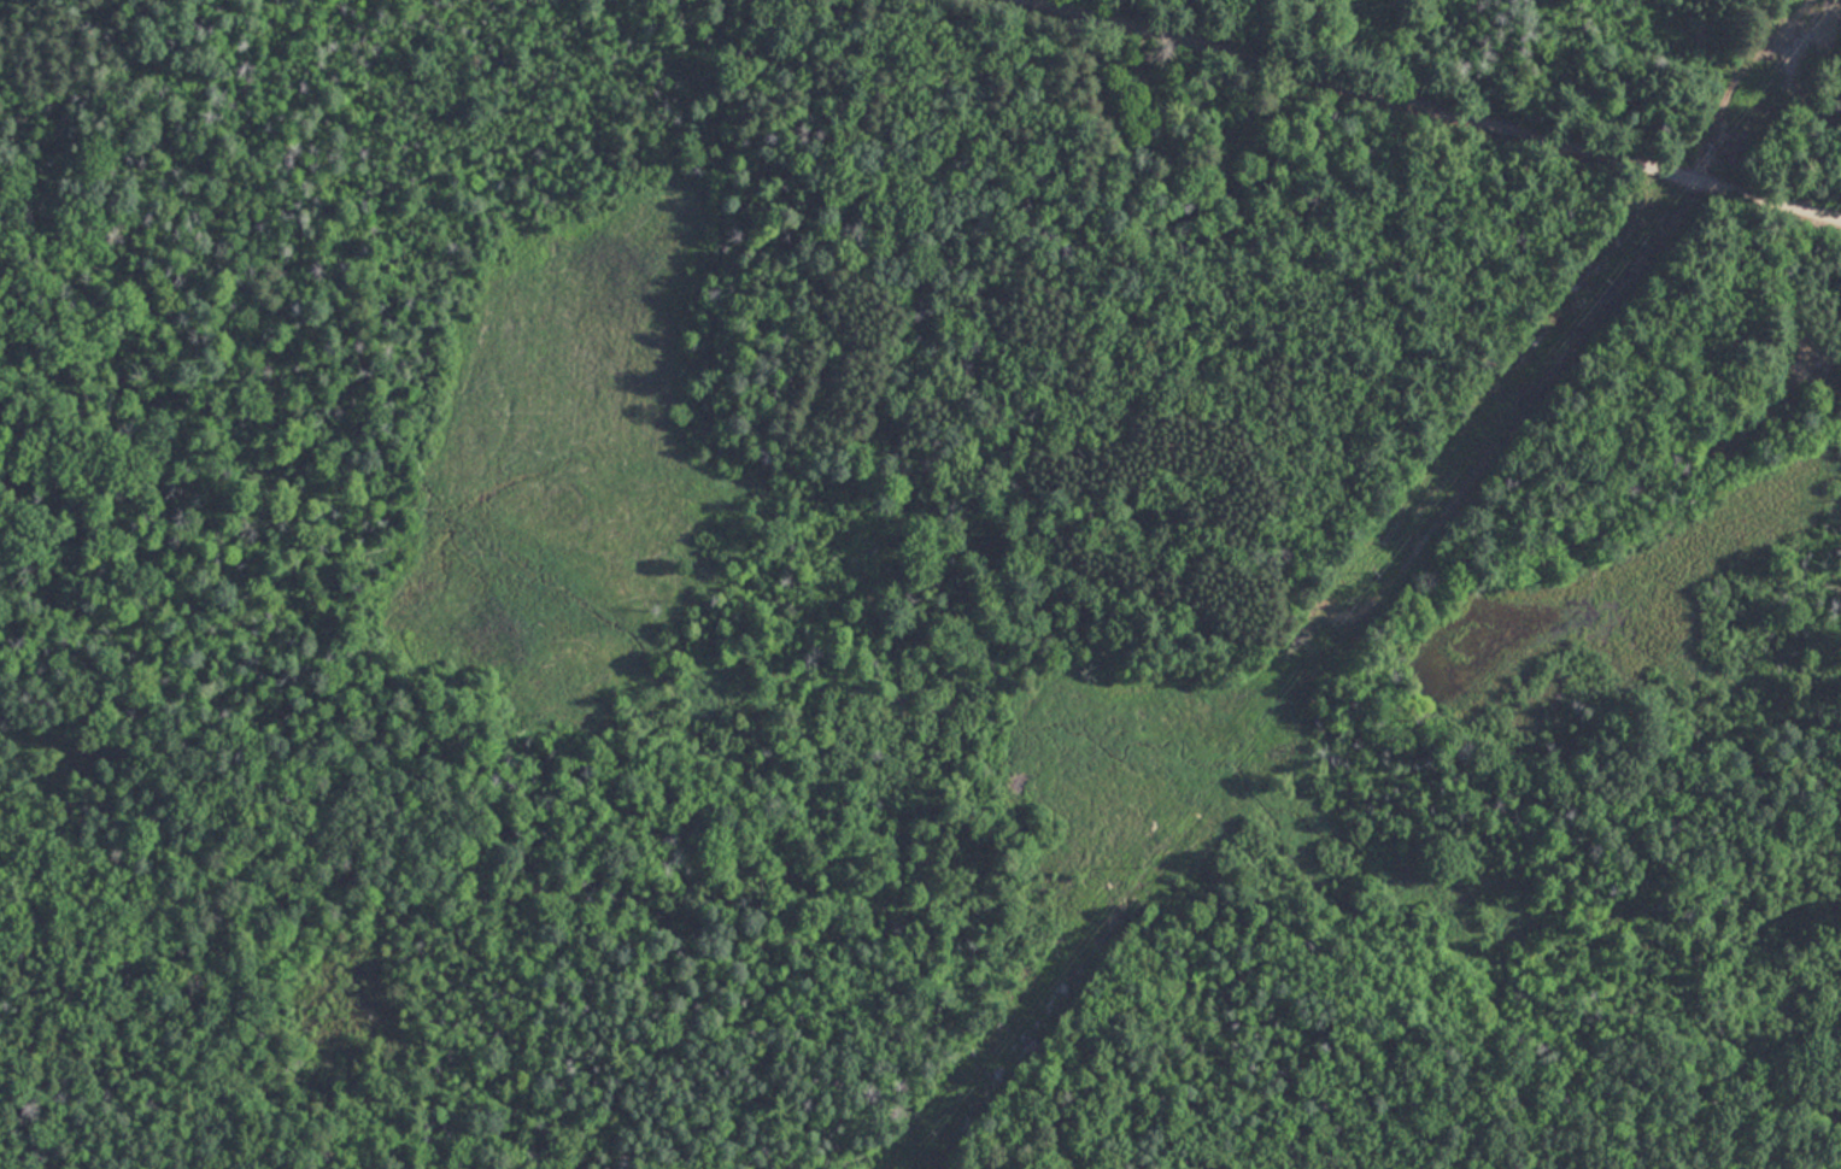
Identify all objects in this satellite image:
road: (1443, 112)
park: (920, 584)

